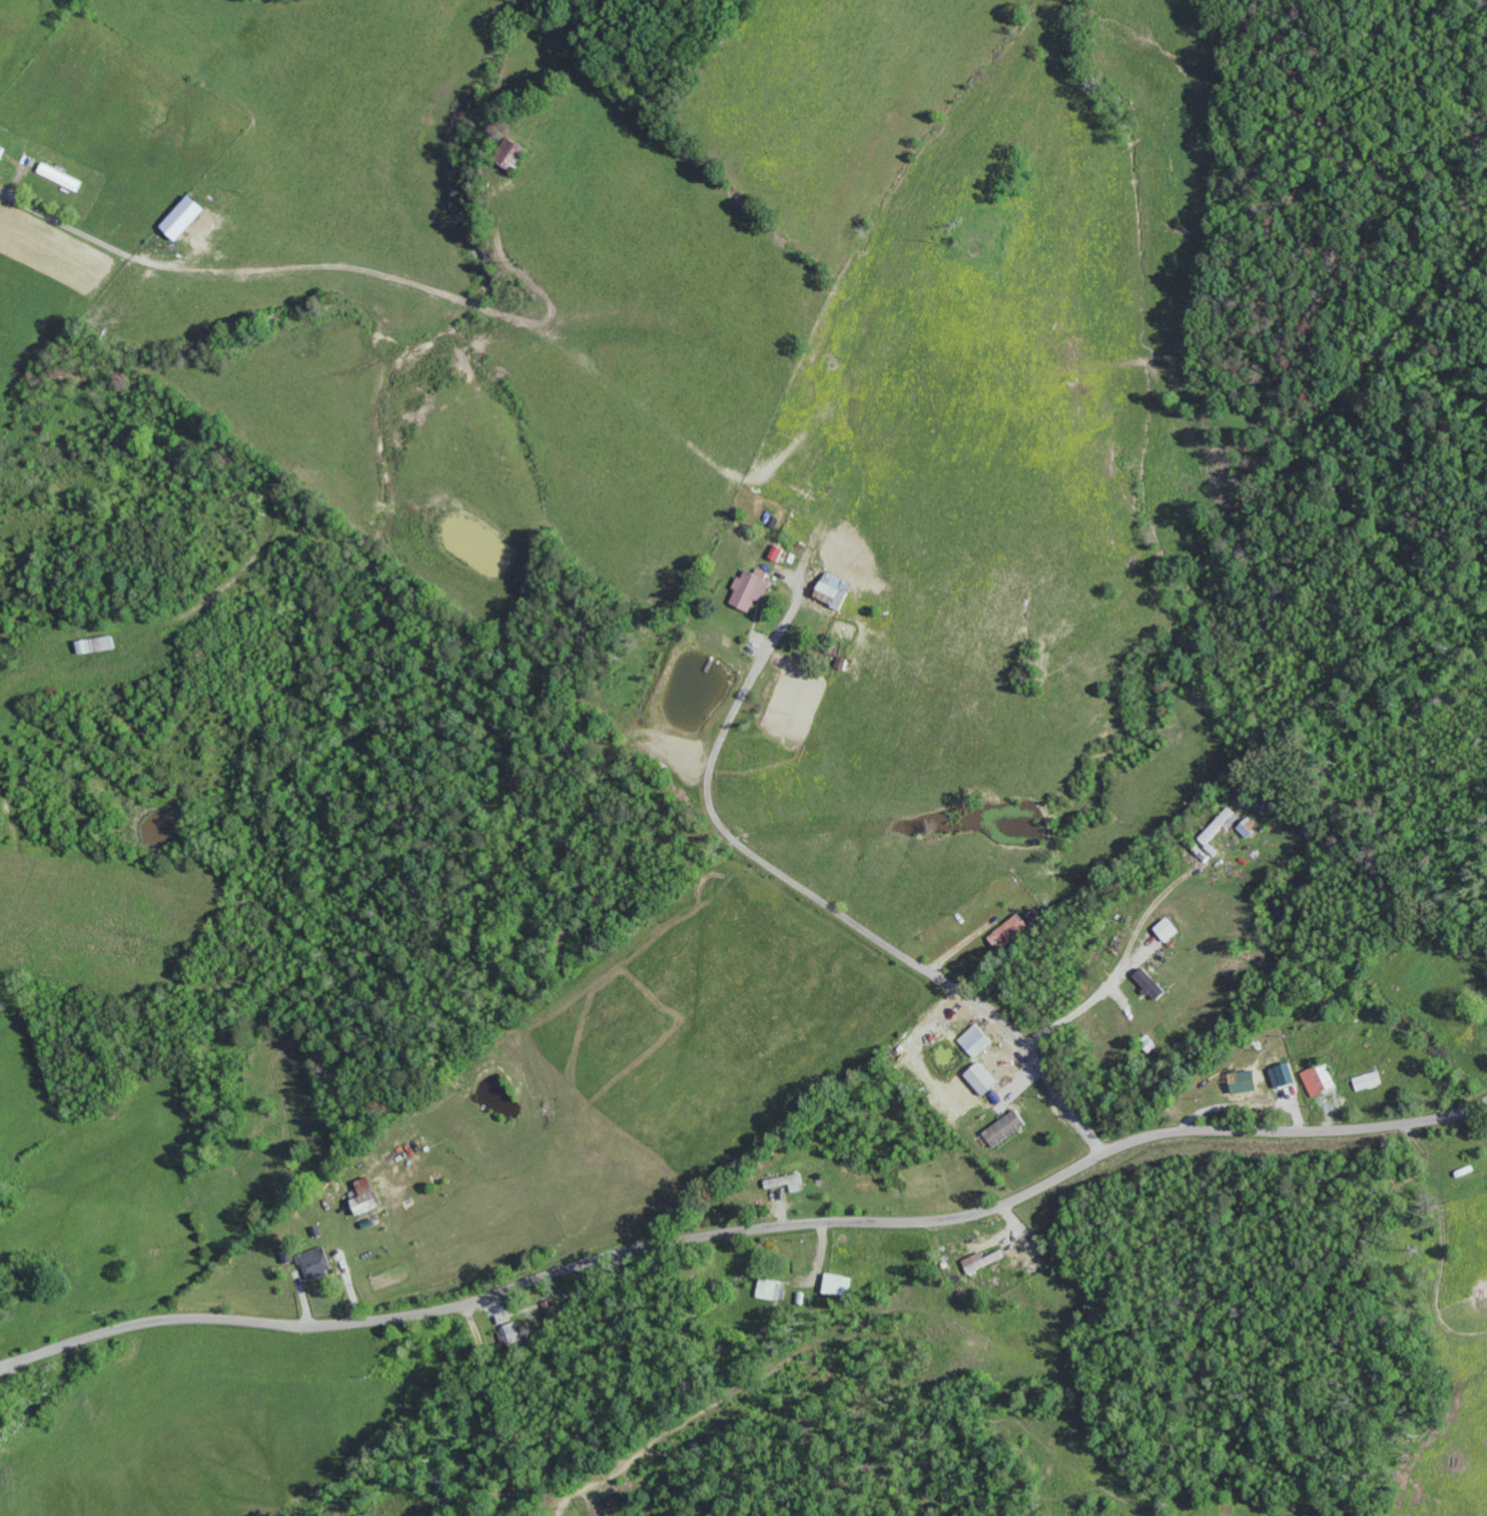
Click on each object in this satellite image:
building: (2, 153)
building: (188, 218)
building: (755, 590)
building: (837, 591)
building: (102, 644)
building: (1221, 825)
building: (1249, 827)
road: (823, 905)
building: (1168, 930)
building: (1012, 932)
building: (1153, 984)
building: (978, 1040)
building: (1285, 1075)
building: (985, 1079)
building: (1321, 1079)
building: (1246, 1081)
building: (1370, 1081)
building: (1009, 1129)
building: (790, 1182)
building: (368, 1196)
road: (745, 1234)
building: (289, 1255)
building: (985, 1261)
building: (318, 1264)
building: (838, 1284)
building: (775, 1289)
building: (556, 1308)
road: (514, 1407)

